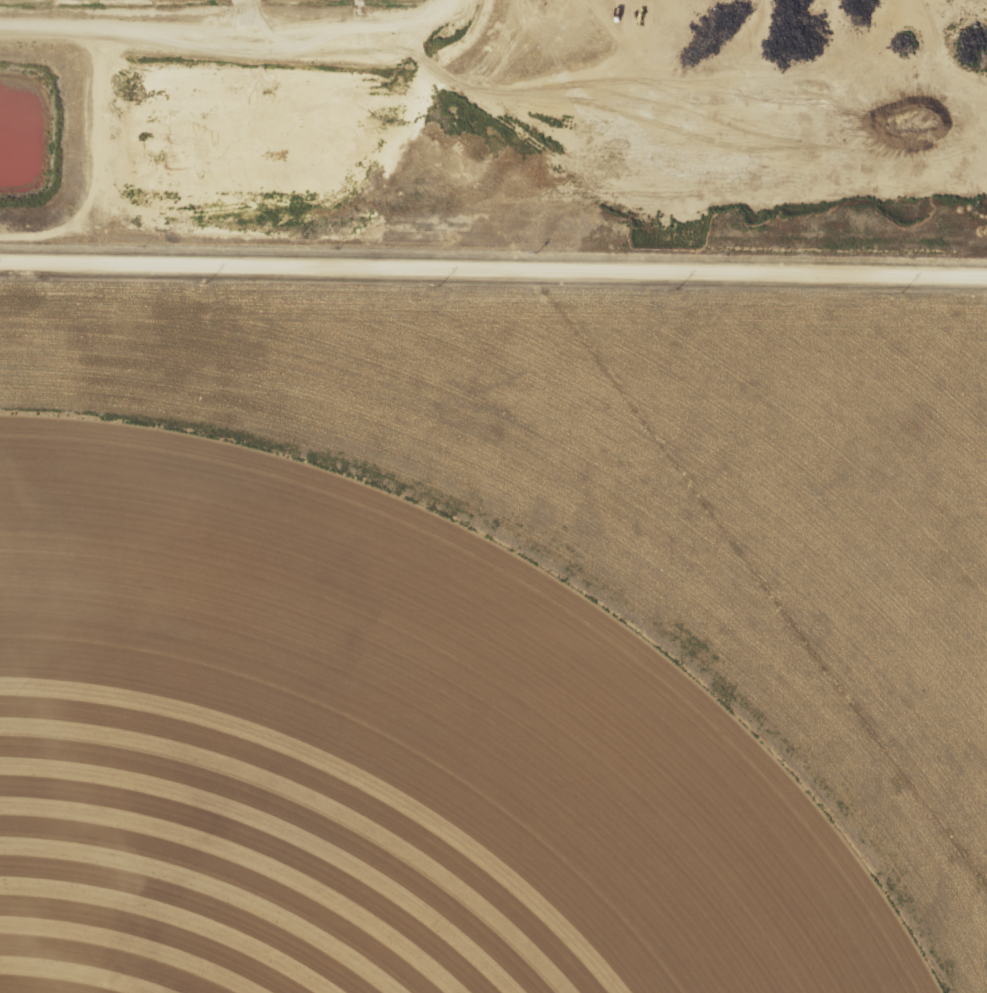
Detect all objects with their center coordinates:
road: (493, 271)

